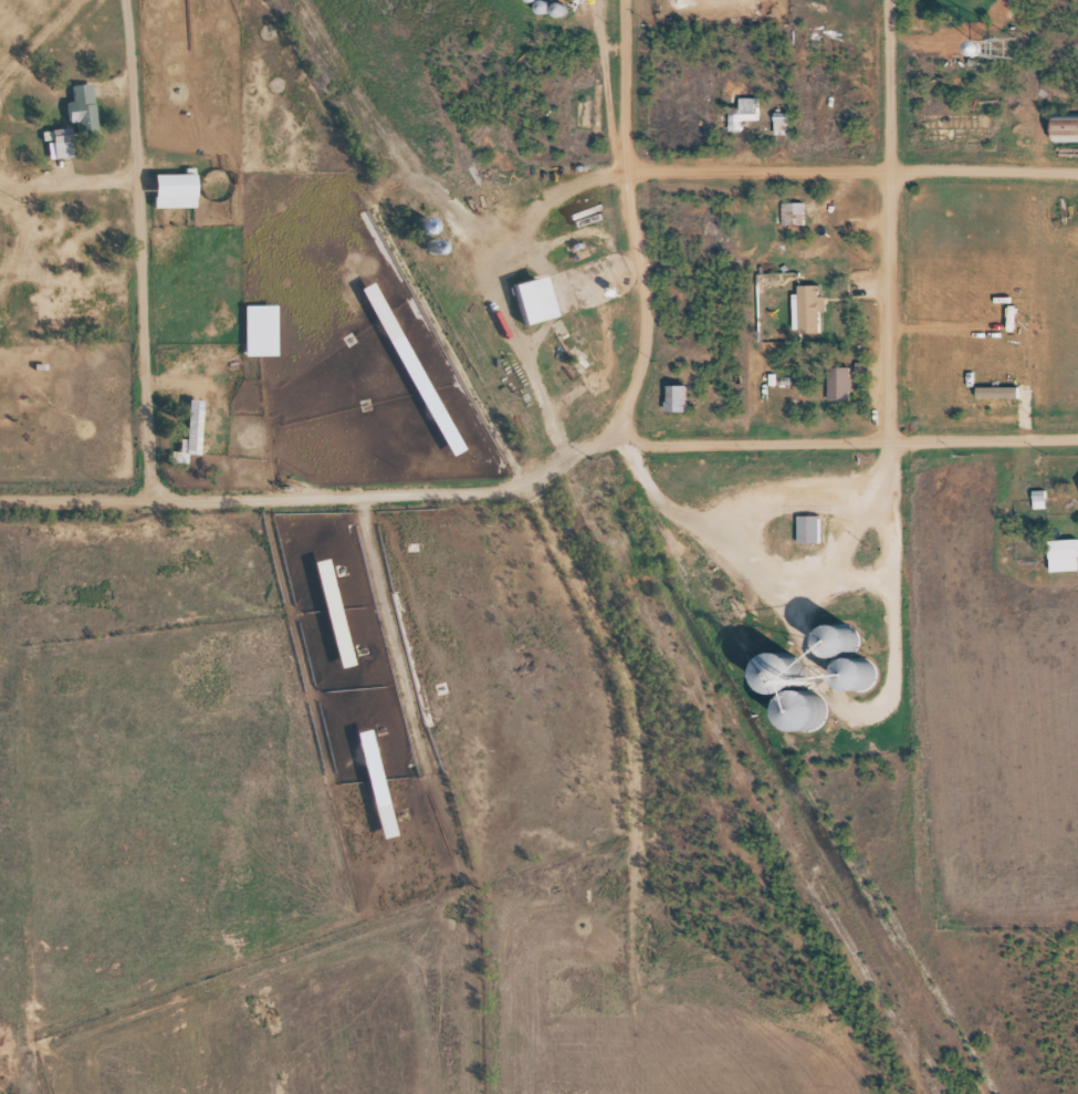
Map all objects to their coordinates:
building: (1039, 13)
water tower: (1038, 18)
building: (88, 106)
building: (745, 110)
building: (785, 115)
building: (1069, 121)
building: (775, 123)
building: (55, 143)
road: (851, 171)
building: (179, 188)
building: (799, 210)
building: (787, 212)
road: (883, 220)
road: (628, 221)
building: (572, 247)
building: (85, 249)
road: (142, 251)
building: (541, 296)
building: (815, 304)
building: (800, 309)
building: (264, 329)
building: (418, 365)
building: (841, 375)
building: (834, 383)
building: (1002, 390)
building: (682, 394)
building: (670, 398)
building: (187, 428)
building: (199, 428)
road: (737, 440)
road: (981, 441)
road: (554, 466)
road: (493, 489)
building: (1034, 499)
road: (237, 501)
building: (809, 528)
railway: (609, 548)
building: (1065, 552)
road: (386, 612)
building: (855, 625)
silo: (855, 625)
building: (838, 639)
building: (799, 657)
silo: (799, 657)
building: (875, 659)
silo: (875, 659)
building: (776, 673)
building: (850, 677)
building: (823, 697)
silo: (823, 697)

